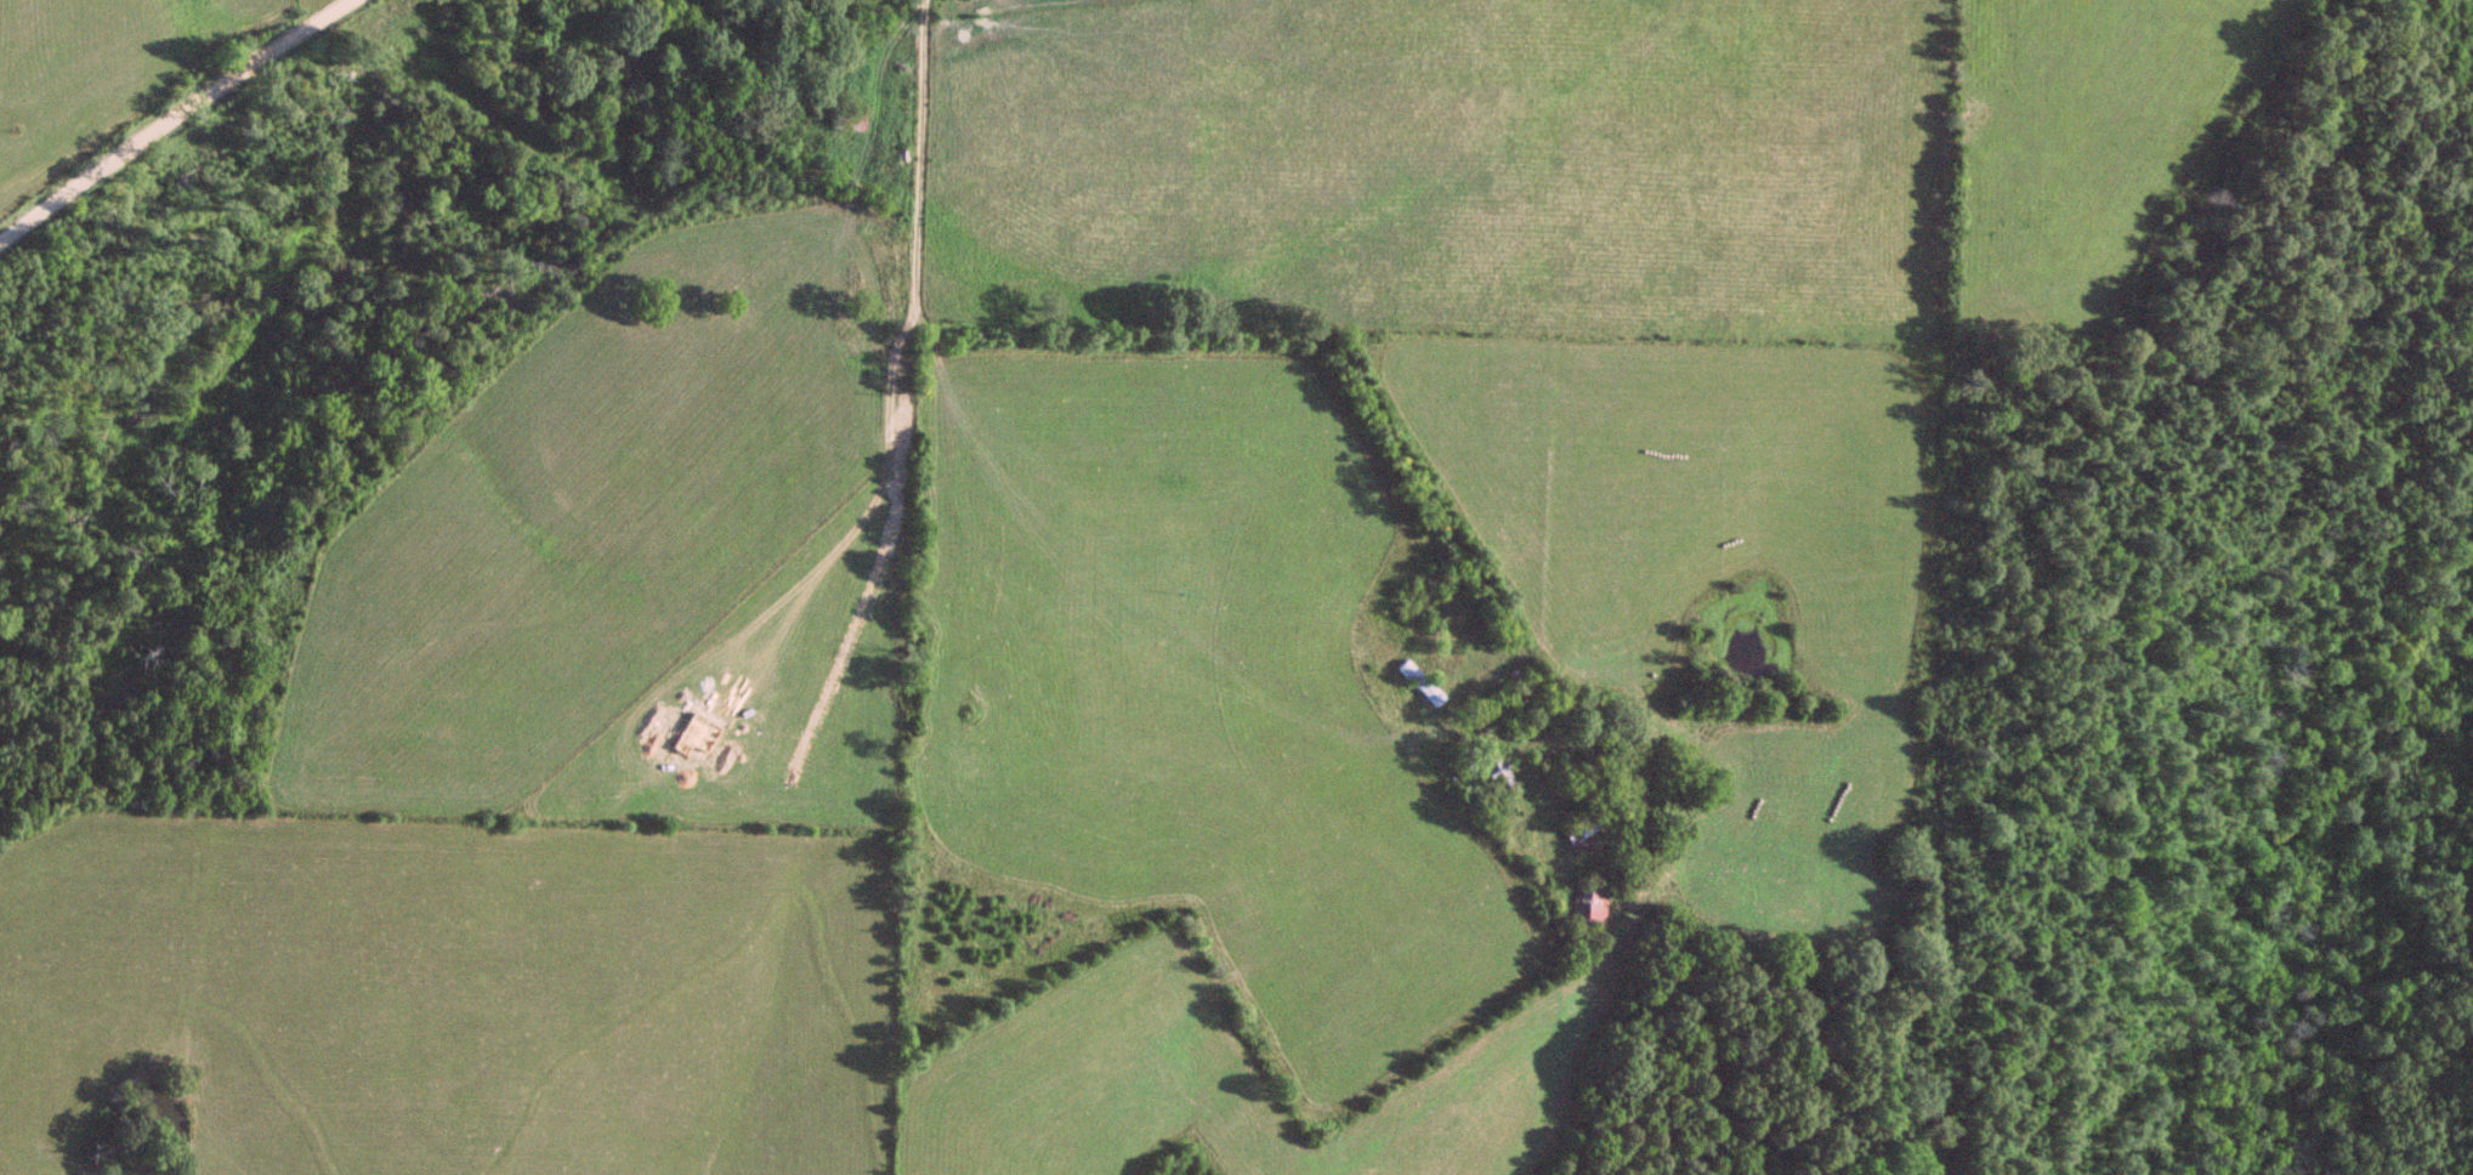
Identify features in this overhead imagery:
road: (181, 125)
road: (1274, 337)
building: (1600, 909)

